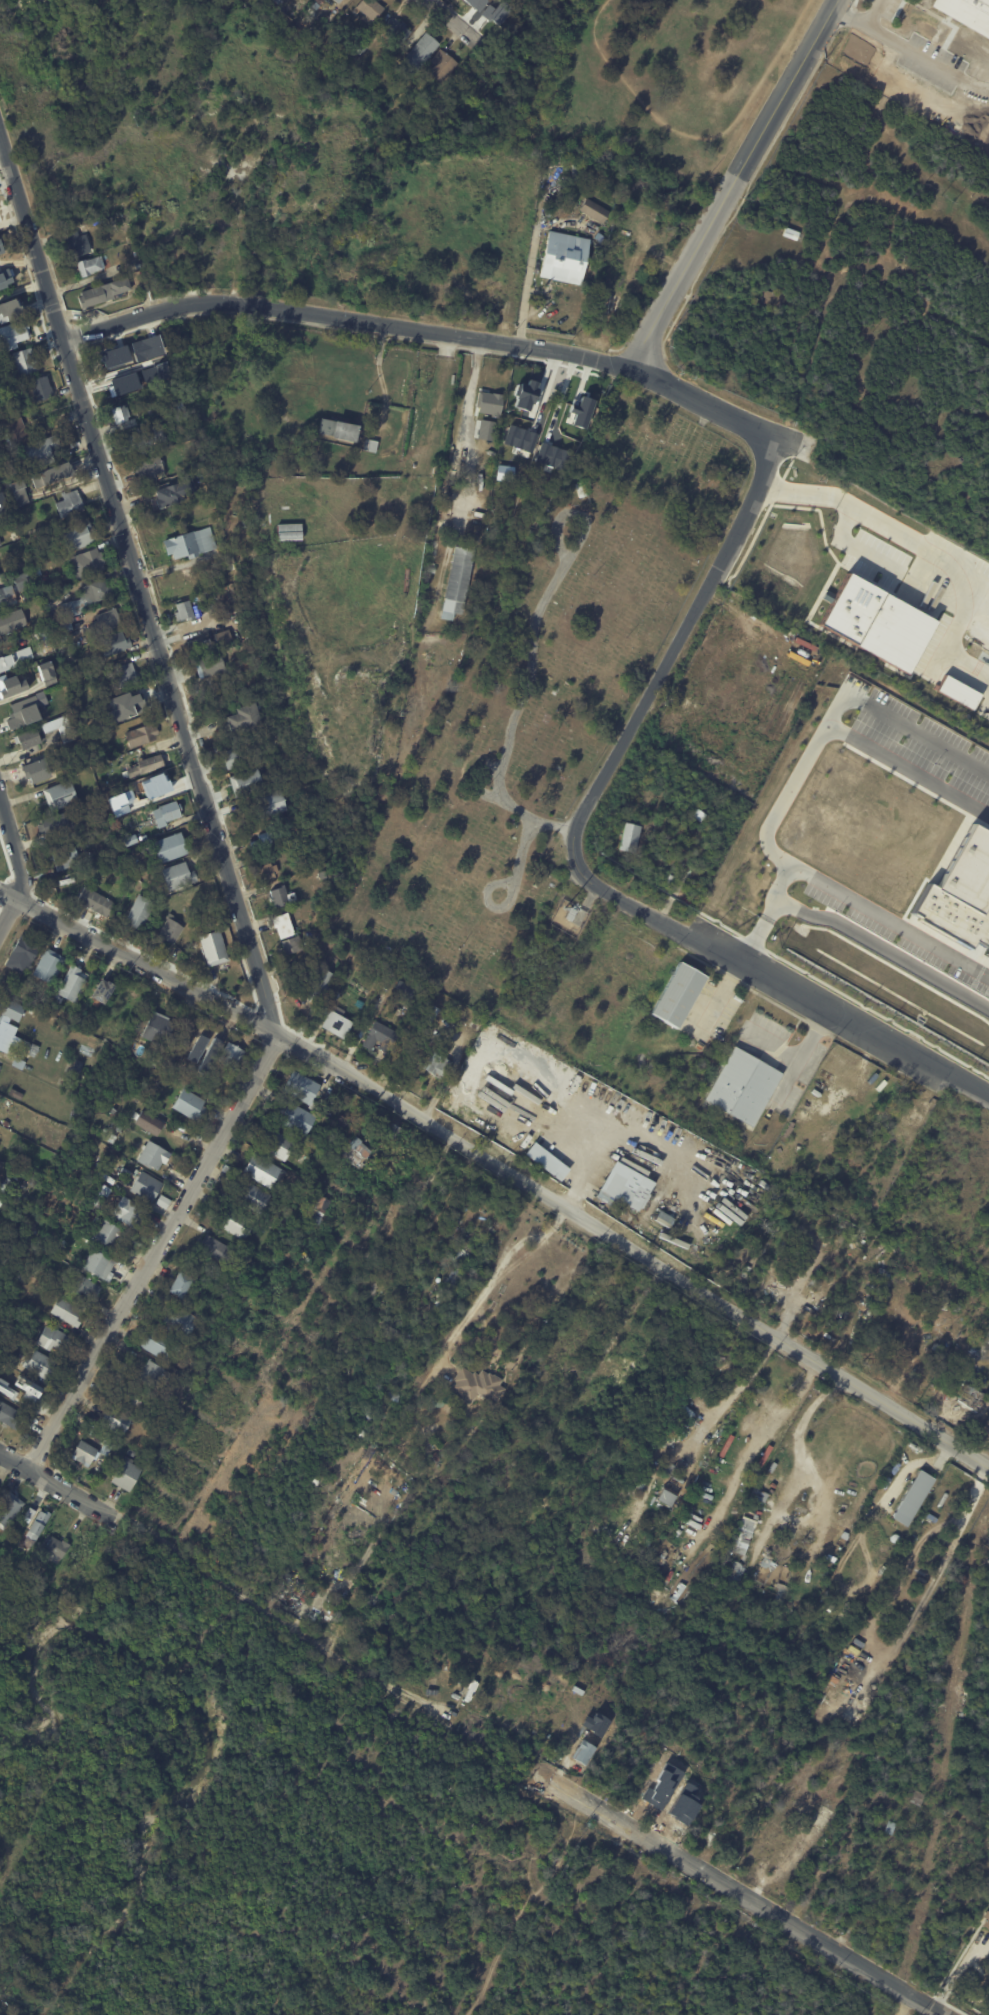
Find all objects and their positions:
building: (319, 1)
building: (337, 1)
building: (315, 6)
building: (370, 9)
building: (966, 13)
parking lot: (873, 17)
road: (461, 20)
road: (862, 22)
building: (396, 29)
building: (363, 47)
building: (421, 51)
building: (442, 66)
building: (378, 89)
road: (695, 137)
road: (733, 182)
building: (594, 211)
building: (790, 233)
building: (599, 238)
road: (31, 239)
building: (76, 245)
building: (1, 248)
building: (564, 259)
building: (88, 267)
building: (5, 279)
road: (525, 291)
building: (101, 294)
building: (9, 302)
building: (611, 303)
road: (344, 318)
building: (13, 333)
building: (146, 348)
building: (113, 355)
building: (272, 358)
building: (24, 360)
road: (381, 374)
building: (39, 387)
building: (488, 403)
road: (715, 406)
building: (120, 413)
building: (338, 429)
building: (13, 431)
building: (146, 437)
road: (464, 445)
building: (40, 451)
building: (536, 452)
building: (149, 469)
building: (50, 474)
building: (581, 489)
building: (18, 492)
building: (174, 492)
building: (68, 504)
road: (886, 518)
building: (287, 532)
building: (76, 535)
building: (0, 544)
building: (189, 544)
building: (85, 563)
building: (231, 567)
building: (431, 570)
road: (979, 575)
building: (60, 580)
building: (21, 582)
building: (457, 582)
building: (98, 589)
building: (178, 591)
building: (6, 596)
building: (75, 605)
road: (540, 607)
building: (183, 611)
building: (196, 611)
building: (11, 621)
building: (104, 621)
building: (875, 622)
building: (61, 625)
building: (222, 639)
building: (114, 644)
road: (676, 644)
building: (195, 646)
building: (7, 658)
building: (244, 662)
building: (209, 665)
building: (45, 673)
building: (122, 676)
building: (90, 678)
building: (11, 684)
road: (170, 688)
building: (131, 699)
park: (537, 699)
building: (270, 710)
building: (21, 712)
building: (243, 719)
building: (58, 727)
building: (279, 727)
road: (899, 728)
building: (141, 735)
building: (27, 738)
building: (51, 755)
building: (227, 759)
building: (151, 764)
building: (35, 770)
road: (906, 774)
building: (245, 783)
road: (500, 788)
building: (59, 796)
building: (269, 805)
building: (165, 813)
road: (539, 821)
building: (55, 824)
building: (117, 831)
building: (630, 838)
building: (128, 840)
building: (265, 841)
road: (14, 848)
building: (169, 848)
road: (520, 854)
building: (63, 857)
building: (266, 872)
building: (321, 875)
building: (177, 876)
road: (504, 883)
road: (815, 885)
road: (779, 890)
road: (8, 892)
building: (280, 897)
building: (94, 902)
road: (8, 912)
building: (138, 913)
building: (571, 914)
building: (282, 926)
building: (171, 930)
road: (856, 937)
building: (292, 945)
building: (213, 948)
building: (21, 953)
building: (320, 957)
building: (48, 965)
road: (147, 966)
building: (71, 982)
road: (770, 982)
building: (319, 985)
building: (101, 990)
building: (406, 992)
building: (677, 995)
building: (333, 1022)
building: (10, 1024)
building: (157, 1026)
building: (380, 1038)
building: (32, 1046)
building: (207, 1046)
road: (775, 1047)
building: (230, 1054)
building: (167, 1056)
road: (803, 1057)
building: (18, 1062)
building: (76, 1066)
building: (437, 1066)
building: (0, 1067)
building: (300, 1086)
building: (743, 1086)
building: (457, 1090)
building: (15, 1093)
building: (189, 1104)
building: (112, 1111)
building: (295, 1117)
building: (147, 1121)
building: (6, 1123)
building: (117, 1128)
building: (392, 1130)
building: (789, 1130)
building: (276, 1144)
building: (355, 1150)
building: (151, 1155)
building: (545, 1160)
building: (263, 1171)
building: (134, 1172)
building: (126, 1182)
building: (5, 1184)
building: (144, 1185)
building: (631, 1195)
building: (251, 1196)
building: (1, 1201)
building: (162, 1201)
building: (130, 1213)
building: (312, 1221)
building: (236, 1222)
building: (106, 1233)
building: (215, 1248)
road: (634, 1249)
road: (153, 1253)
building: (307, 1255)
building: (248, 1262)
building: (96, 1263)
building: (426, 1263)
building: (65, 1268)
building: (20, 1275)
building: (179, 1284)
building: (84, 1286)
building: (371, 1286)
building: (65, 1311)
building: (180, 1321)
building: (52, 1338)
building: (156, 1343)
building: (39, 1364)
building: (149, 1373)
building: (16, 1384)
building: (476, 1384)
building: (8, 1390)
building: (28, 1390)
building: (189, 1390)
building: (358, 1392)
building: (135, 1399)
building: (972, 1399)
building: (10, 1415)
building: (116, 1419)
building: (99, 1438)
building: (106, 1446)
building: (451, 1447)
building: (84, 1452)
building: (131, 1452)
building: (435, 1457)
building: (420, 1458)
building: (125, 1474)
building: (366, 1478)
road: (51, 1484)
building: (641, 1484)
building: (759, 1495)
building: (666, 1496)
building: (911, 1497)
building: (8, 1509)
building: (38, 1523)
building: (739, 1531)
building: (56, 1547)
building: (765, 1562)
building: (735, 1574)
building: (780, 1597)
road: (274, 1603)
building: (661, 1763)
building: (918, 1798)
building: (943, 1809)
building: (890, 1828)
building: (781, 1838)
building: (898, 1882)
road: (776, 1912)
building: (986, 1922)
road: (958, 1972)

